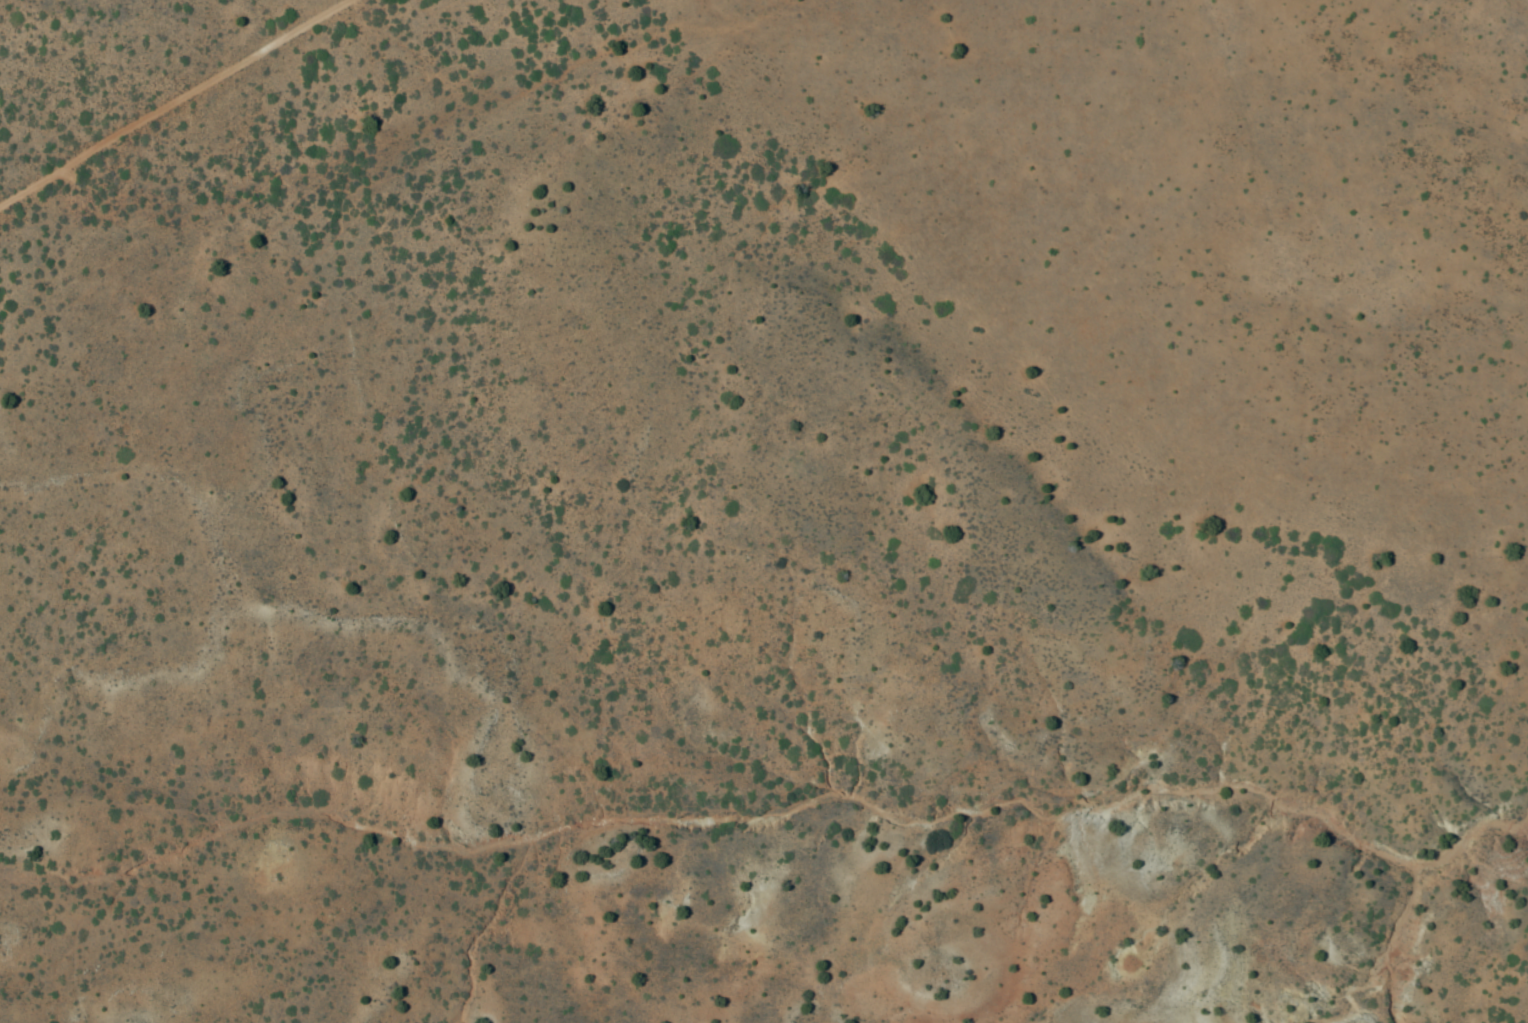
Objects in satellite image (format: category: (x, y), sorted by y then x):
road: (162, 92)

